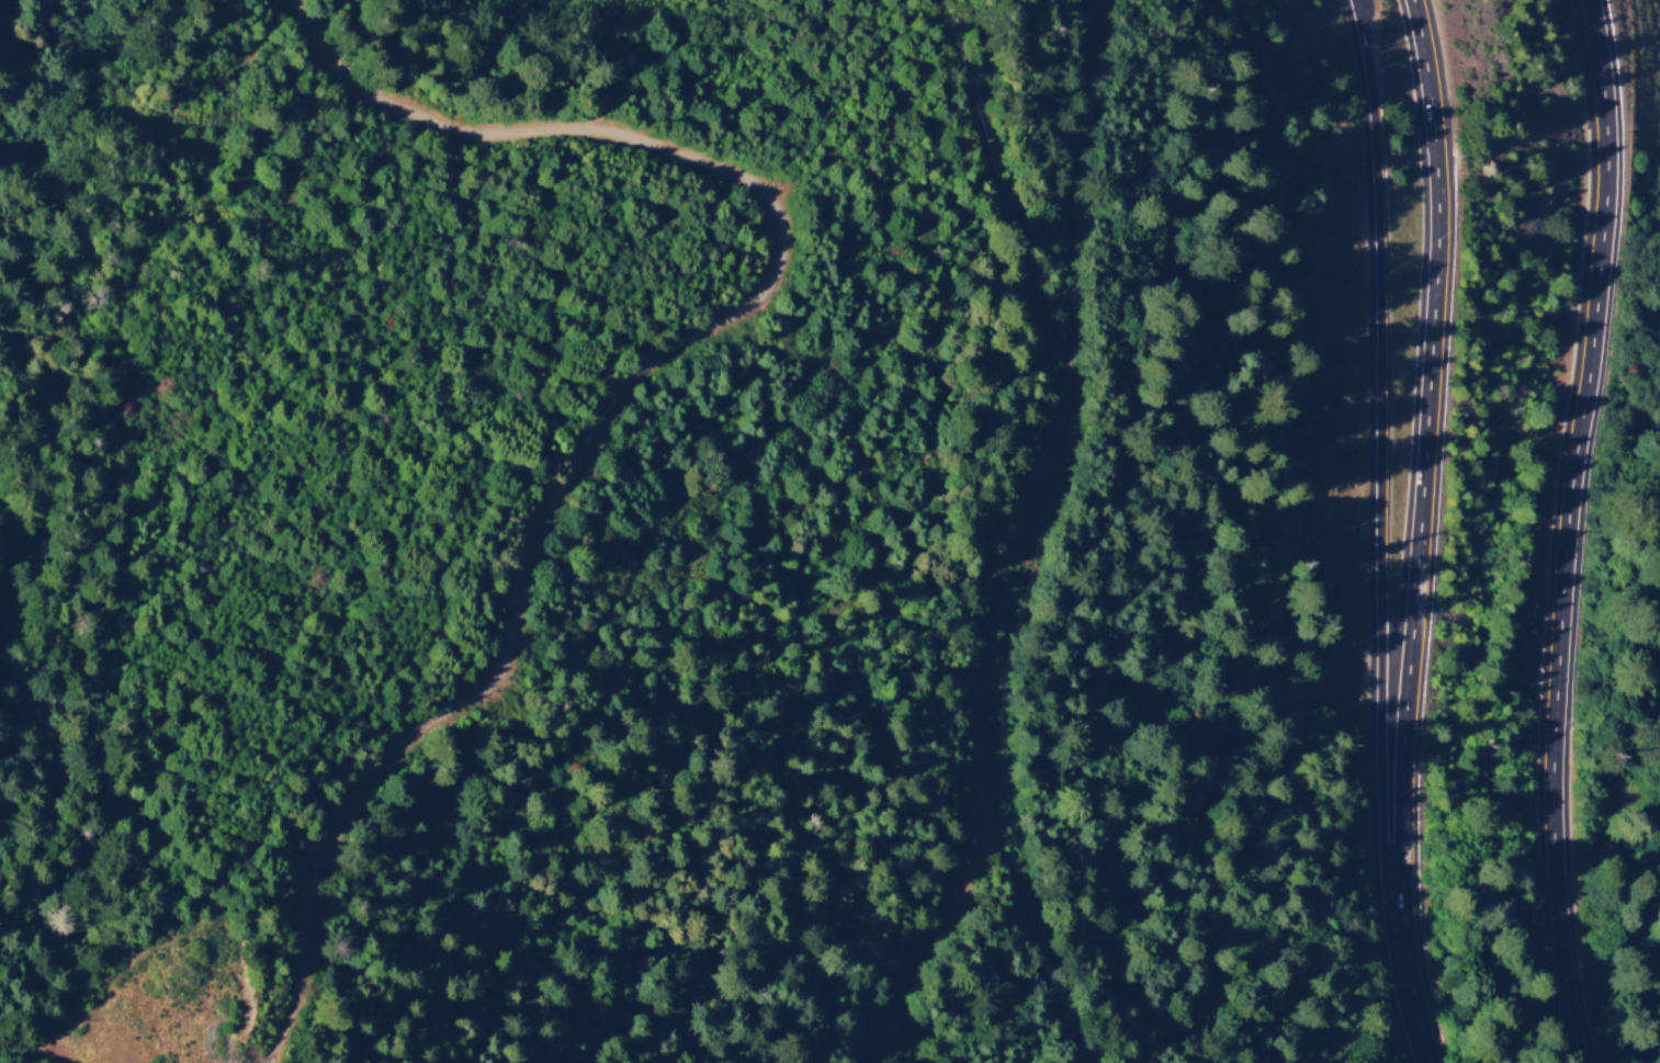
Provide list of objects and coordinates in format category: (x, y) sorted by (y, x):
road: (579, 8)
road: (338, 13)
road: (1365, 16)
park: (1219, 410)
road: (642, 418)
road: (1389, 479)
road: (1428, 531)
road: (1577, 532)
road: (1017, 543)
road: (82, 1059)

